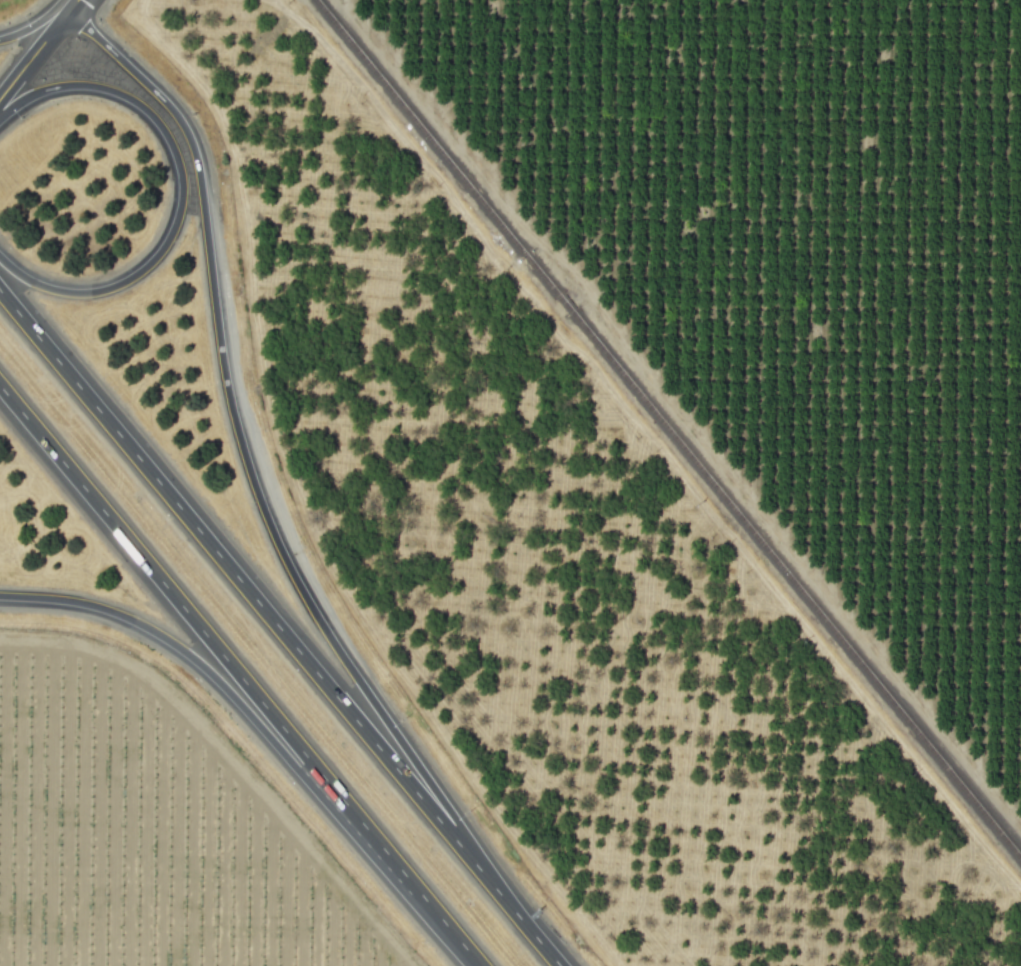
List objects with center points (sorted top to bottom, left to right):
road: (73, 5)
road: (32, 23)
road: (34, 55)
road: (181, 190)
railway: (669, 429)
road: (248, 468)
road: (254, 599)
road: (200, 629)
road: (225, 689)
road: (439, 918)
road: (533, 936)

